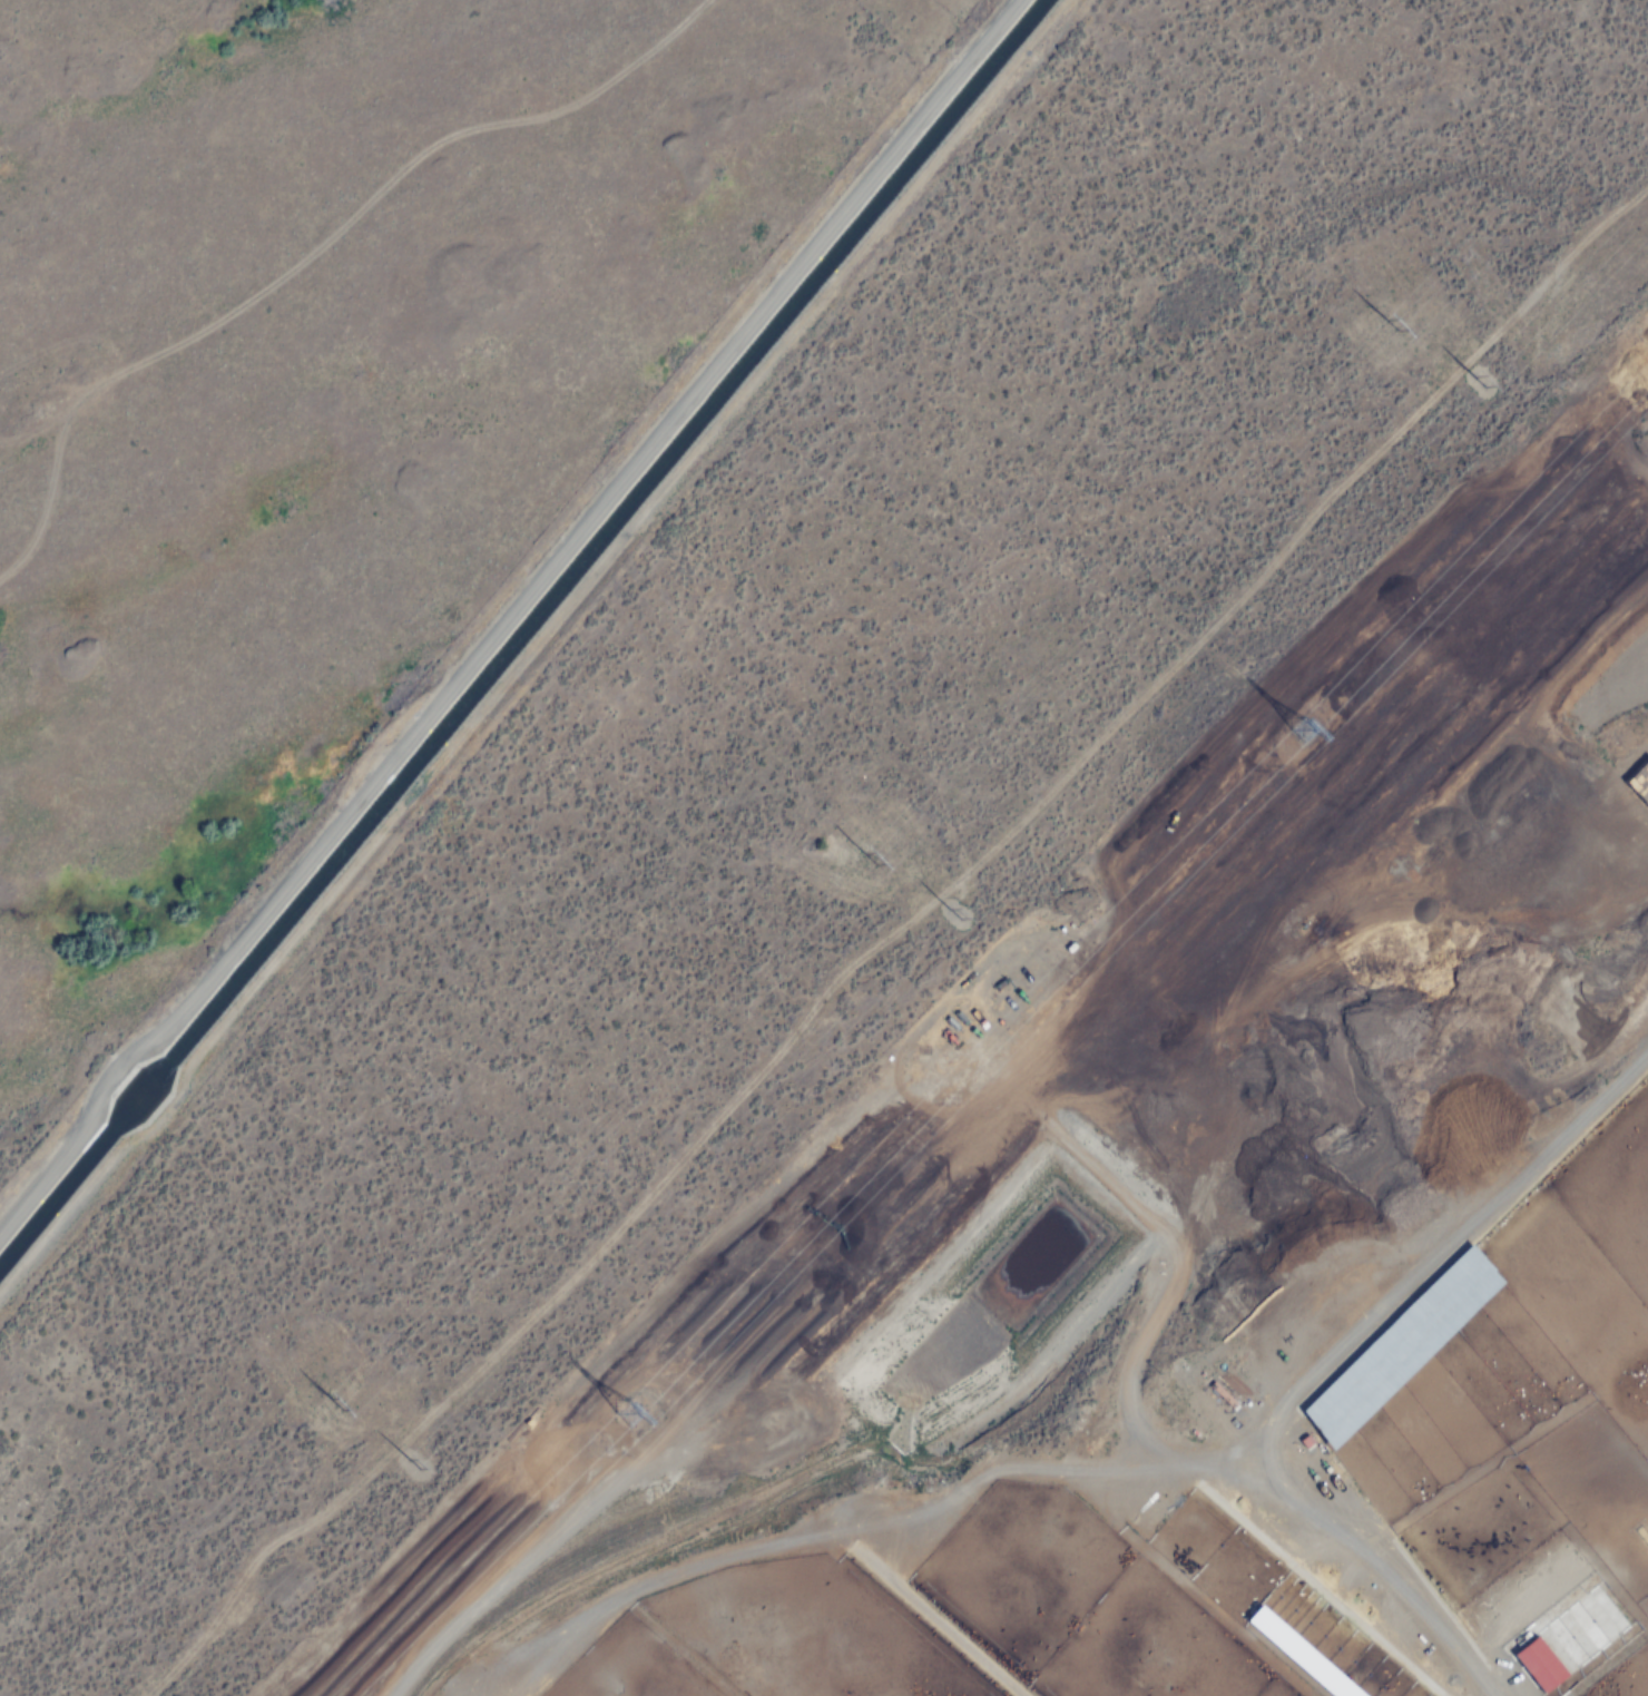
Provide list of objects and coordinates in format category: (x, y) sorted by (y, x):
power tower: (1482, 381)
power tower: (1299, 728)
power tower: (953, 913)
building: (1403, 1347)
power tower: (617, 1406)
power tower: (411, 1464)

